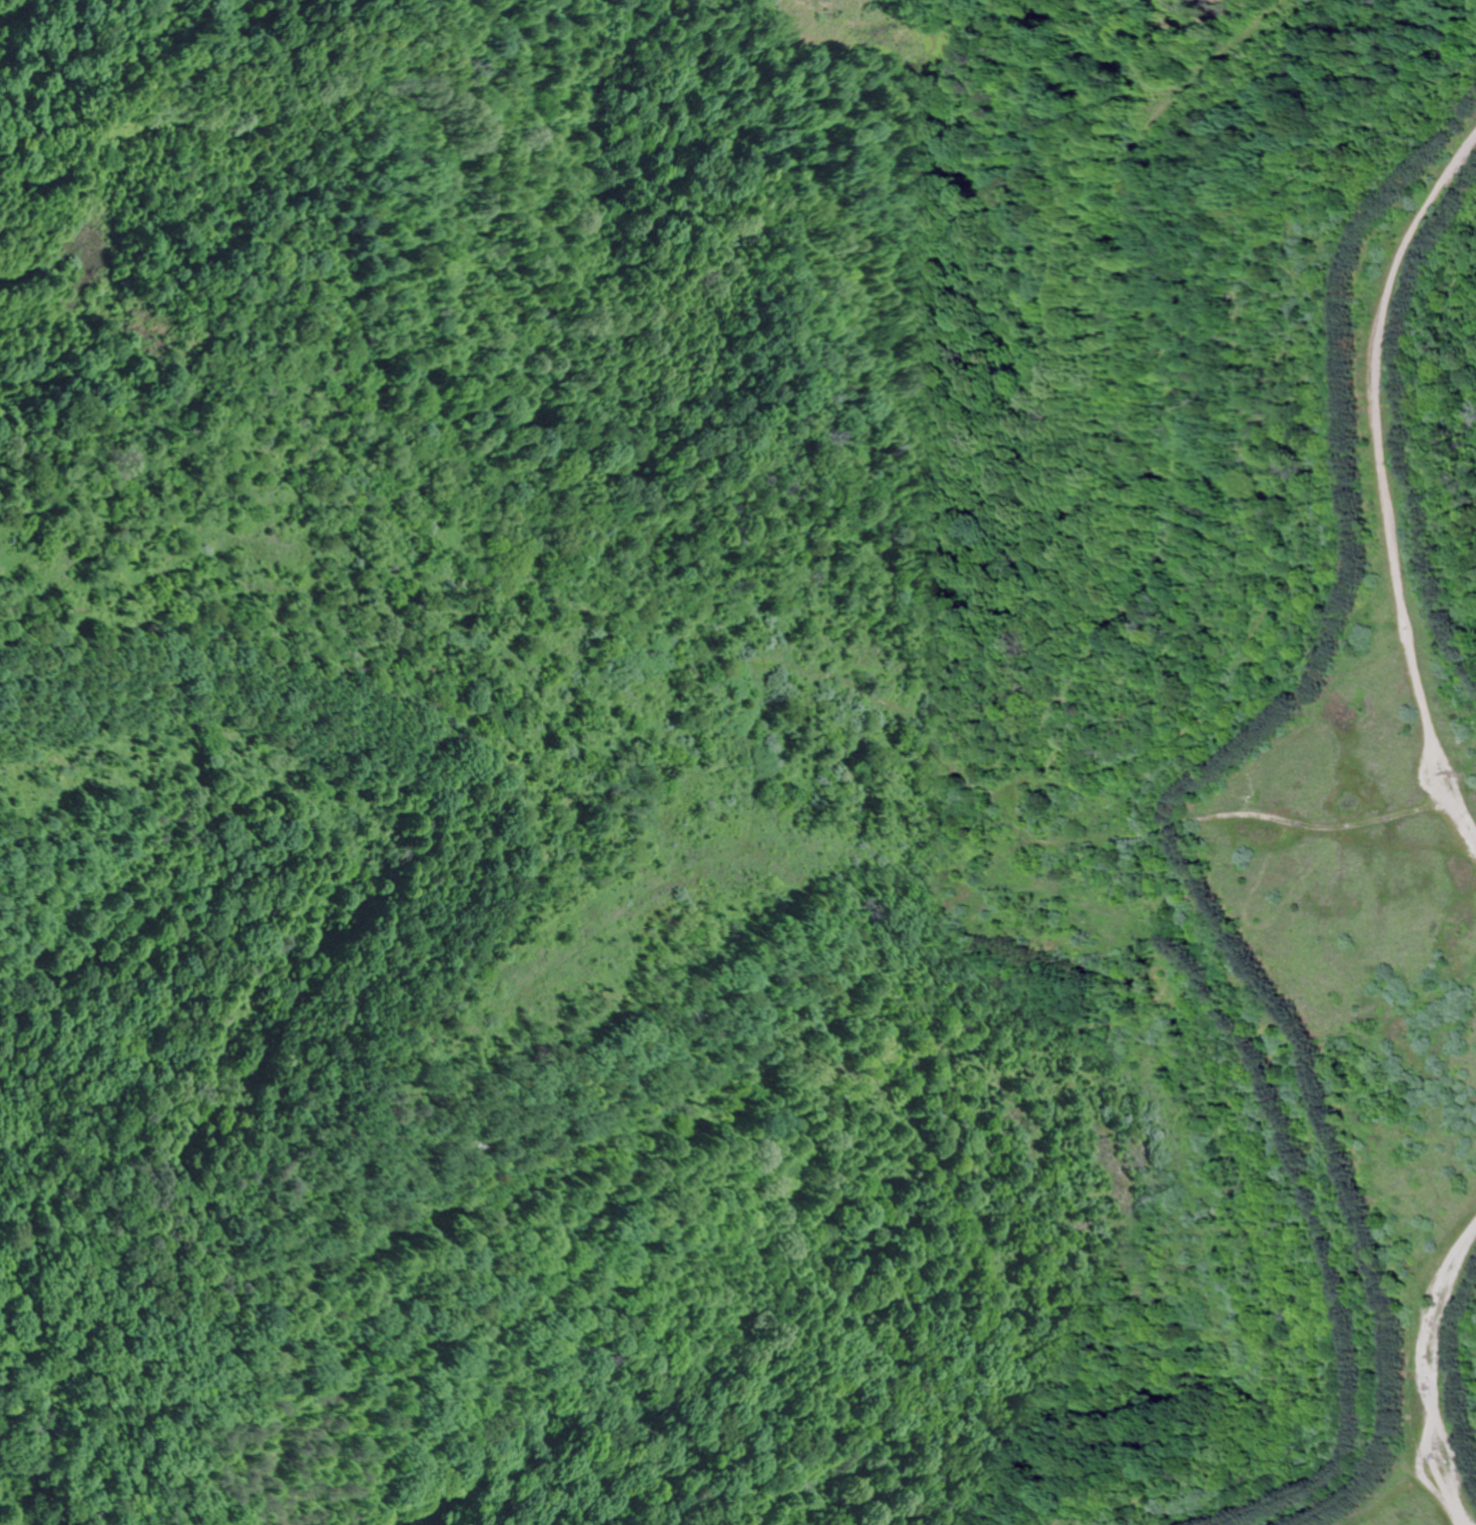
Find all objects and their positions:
road: (1415, 283)
road: (165, 1111)

